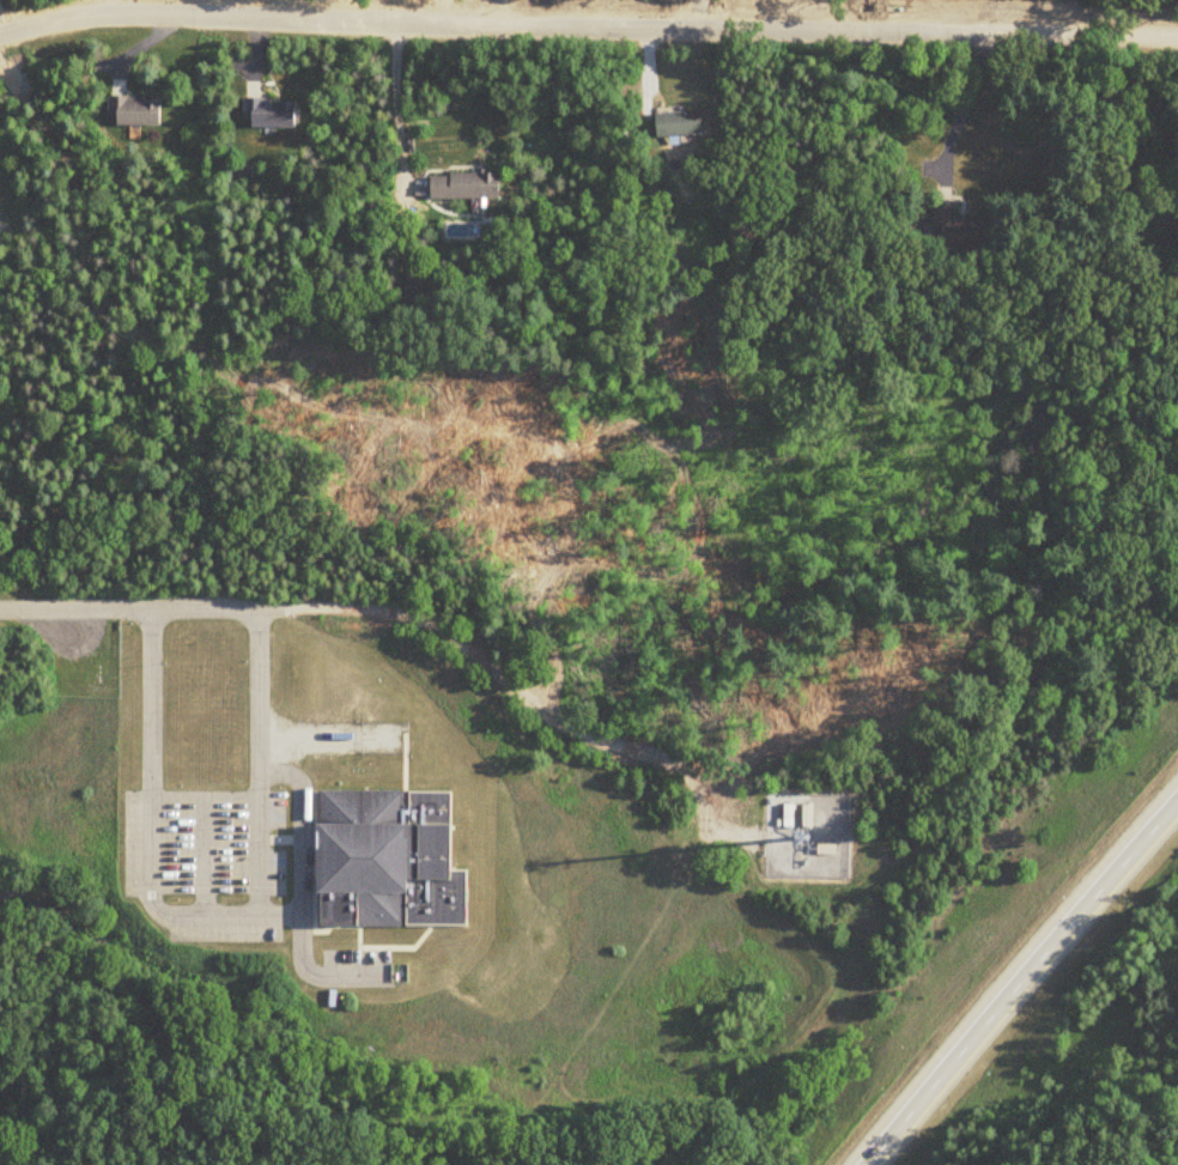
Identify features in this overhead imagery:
road: (498, 13)
road: (588, 28)
road: (397, 104)
road: (963, 108)
building: (136, 111)
building: (272, 113)
building: (680, 125)
building: (467, 187)
building: (959, 230)
building: (419, 295)
road: (419, 624)
road: (329, 733)
building: (809, 815)
building: (790, 817)
building: (393, 855)
road: (298, 873)
road: (206, 912)
road: (302, 958)
road: (1027, 988)
road: (127, 994)

